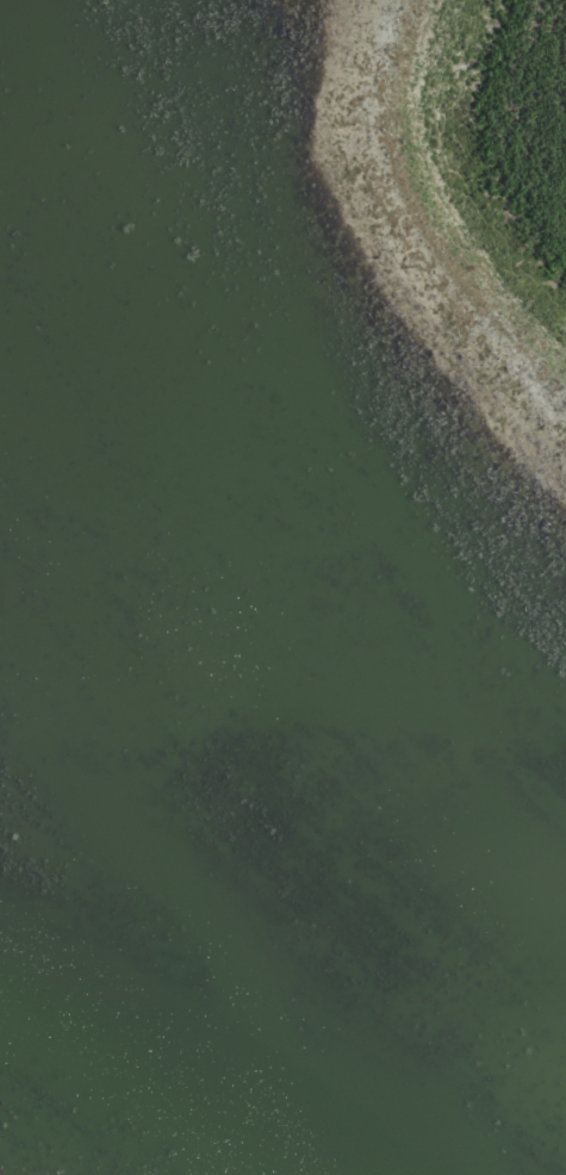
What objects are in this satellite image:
river: (213, 1070)

